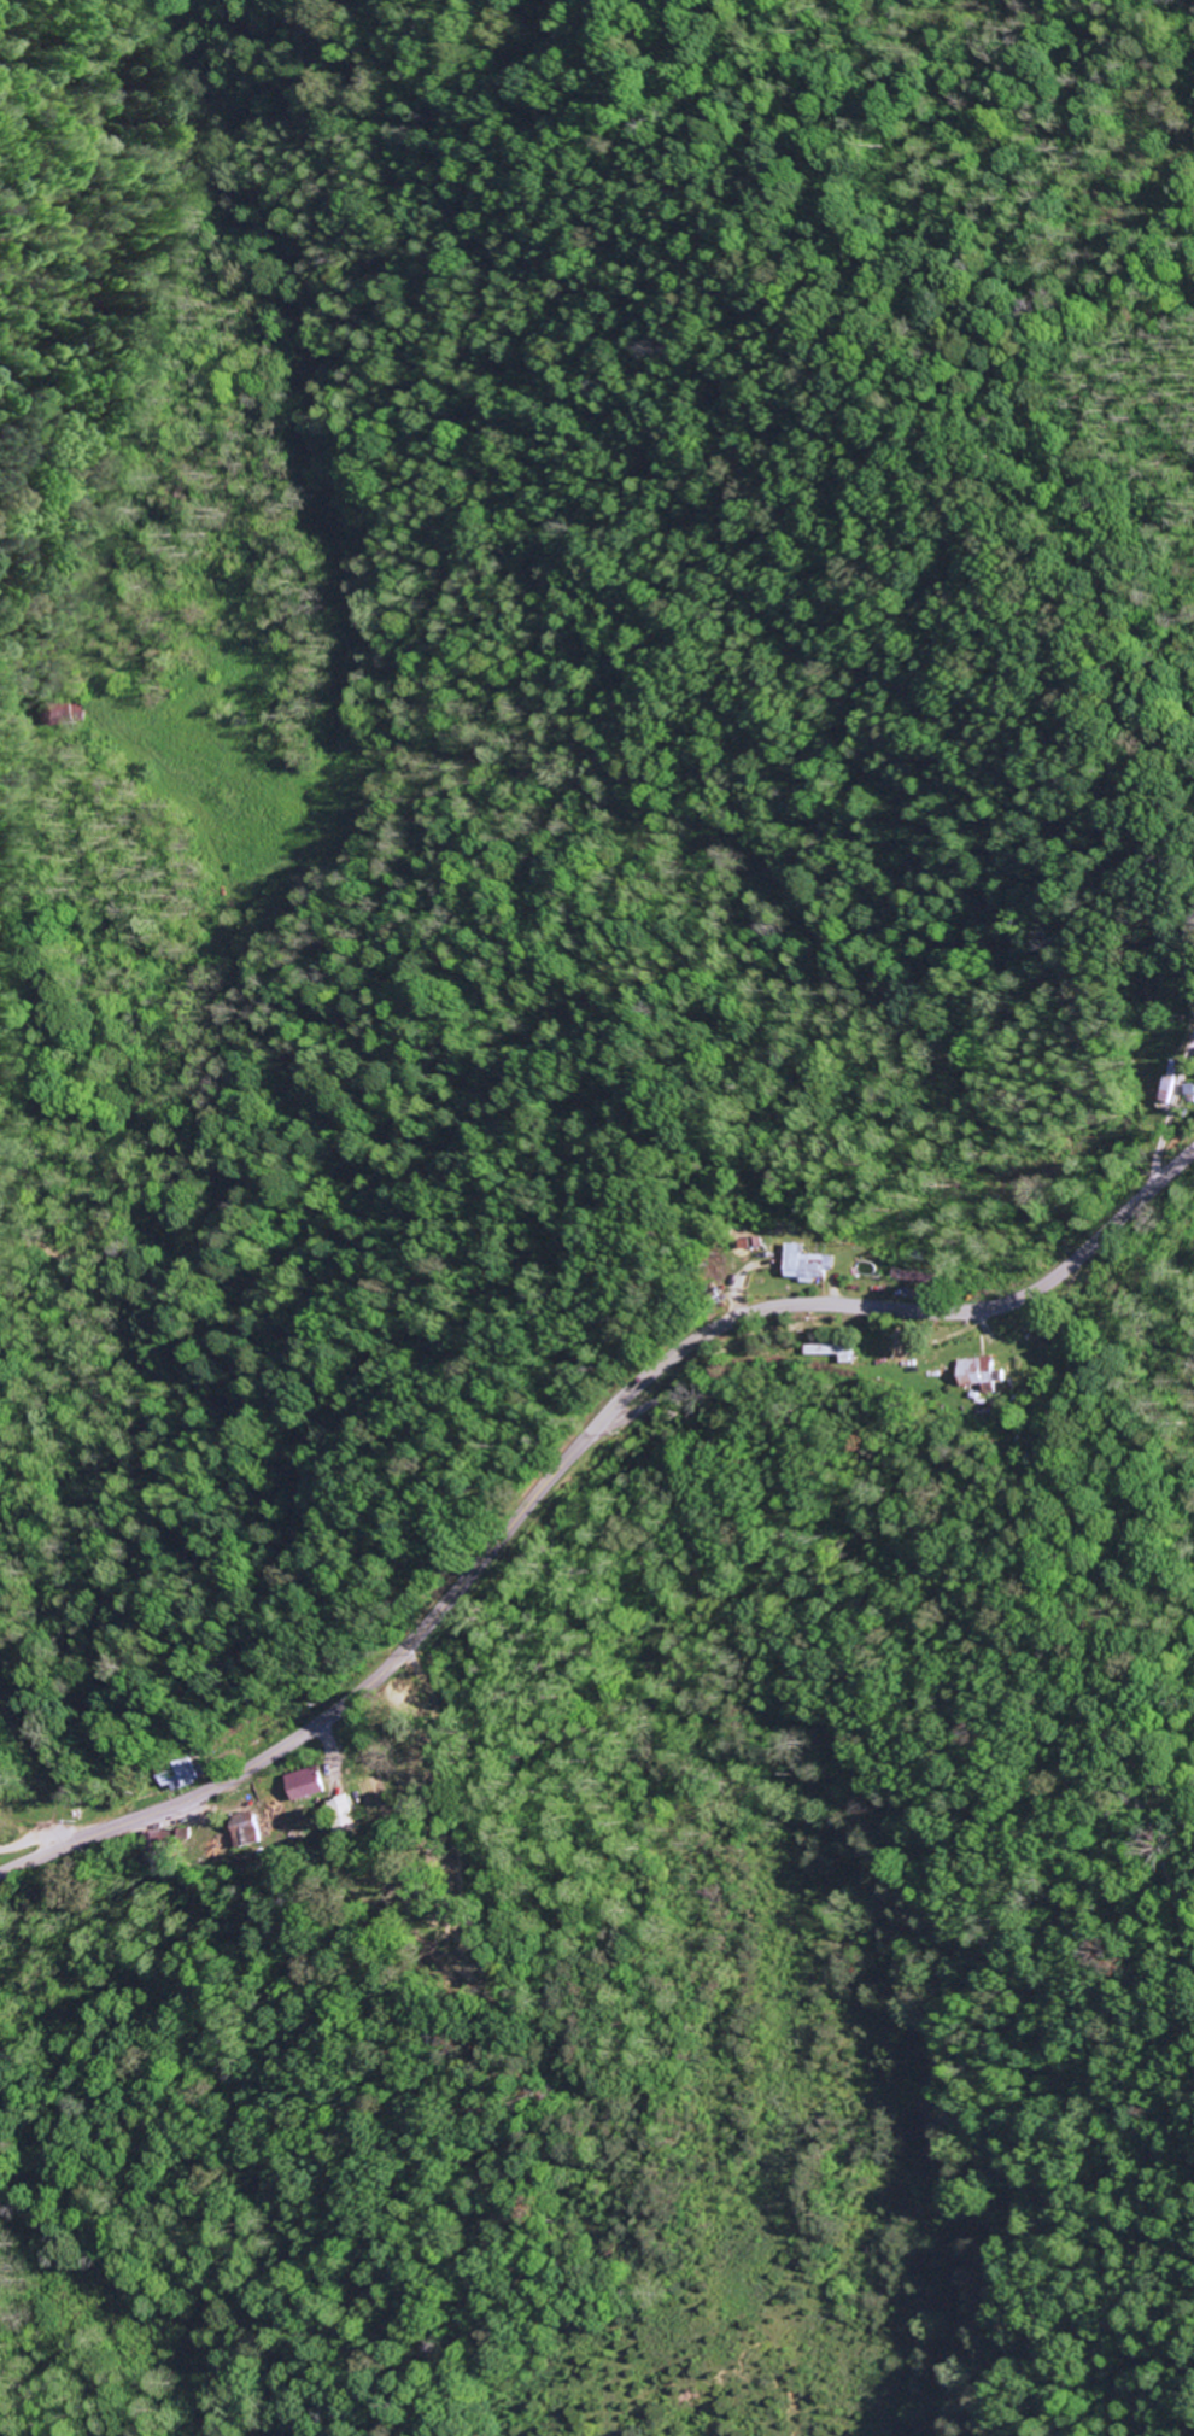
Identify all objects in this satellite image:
road: (31, 687)
building: (807, 1266)
building: (830, 1353)
building: (977, 1376)
road: (573, 1451)
road: (990, 1576)
building: (180, 1780)
building: (305, 1785)
building: (343, 1816)

